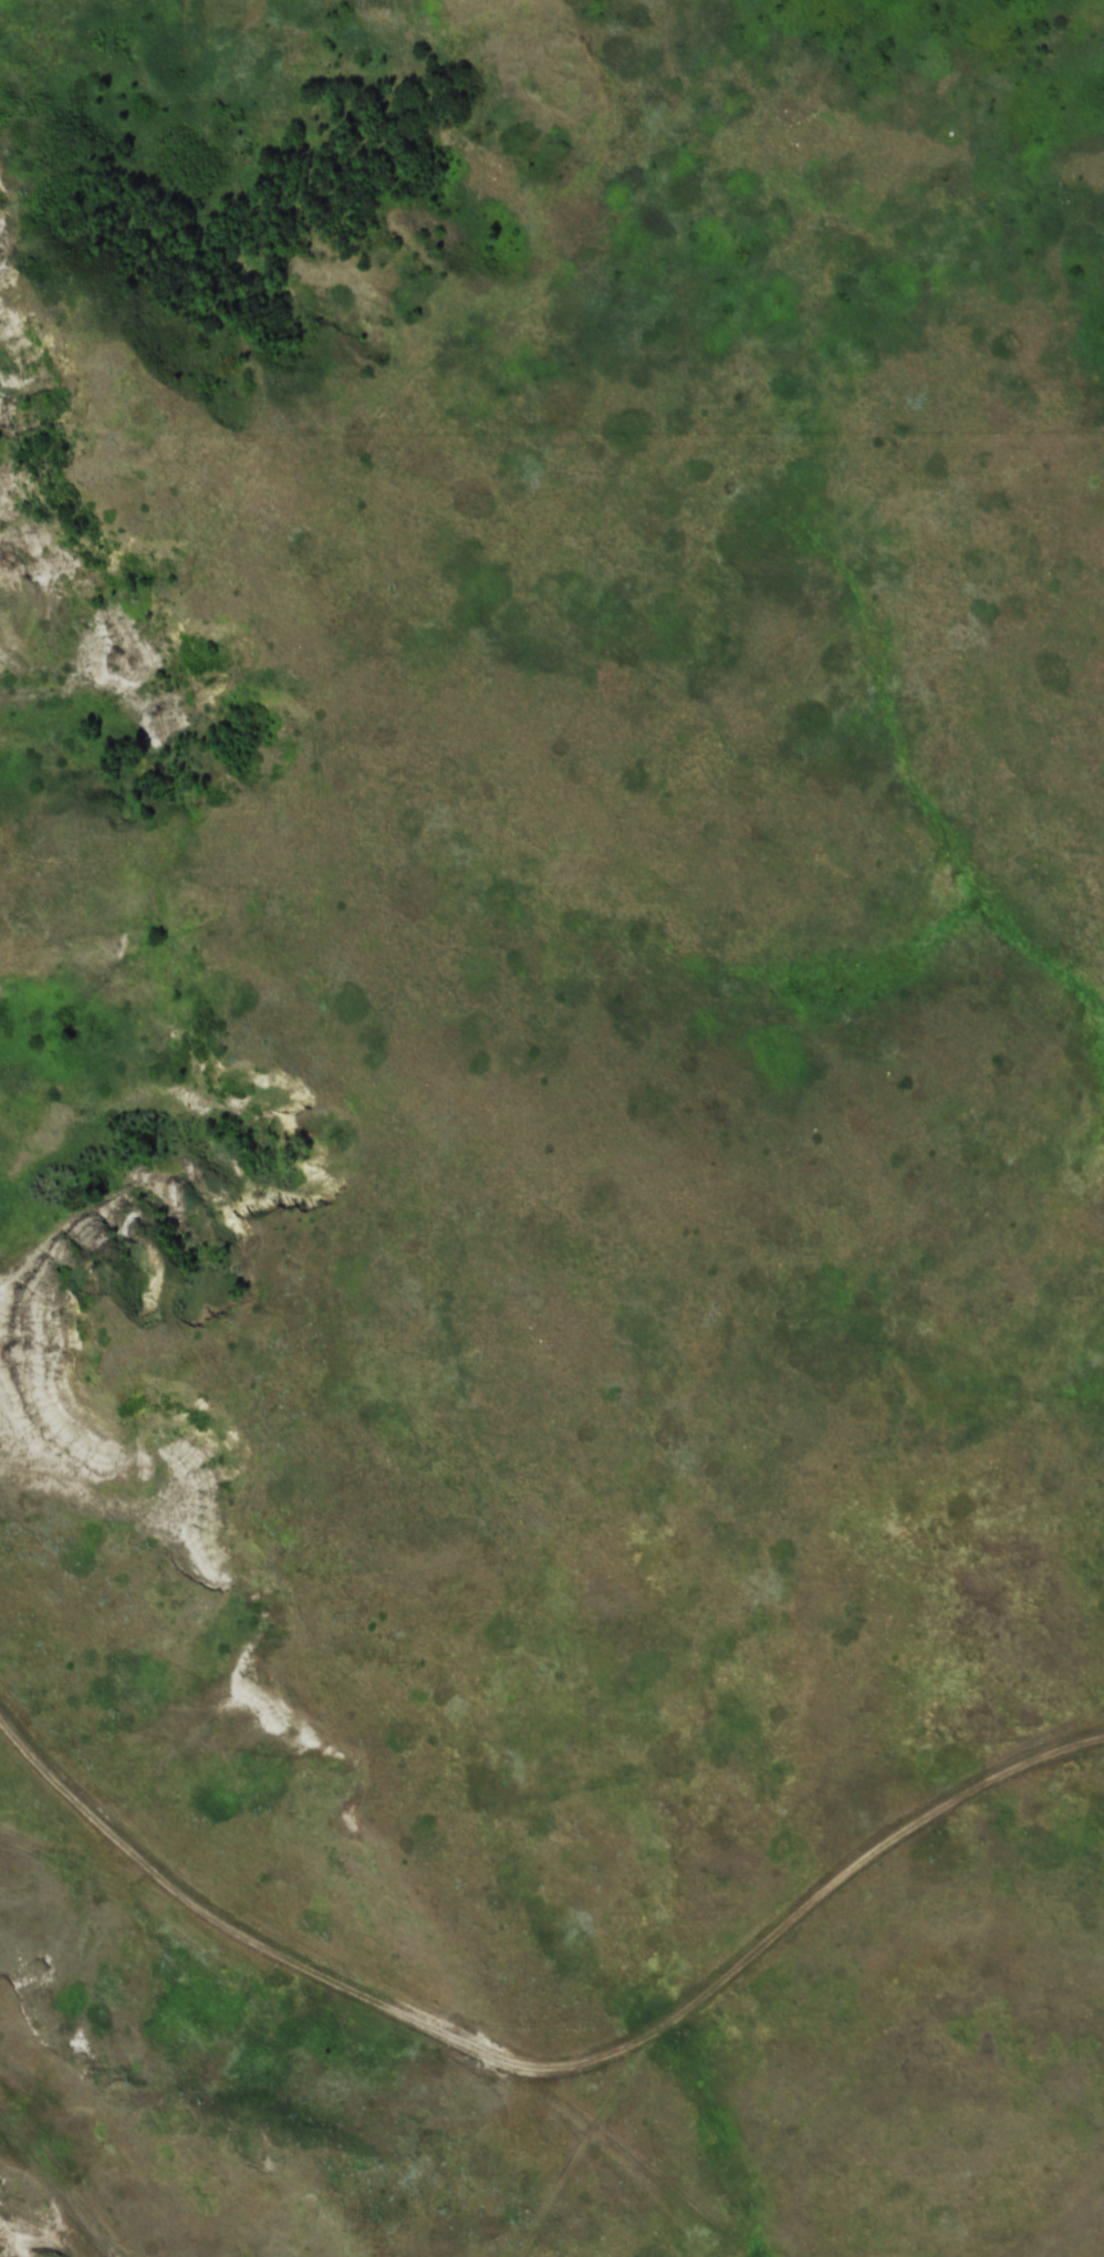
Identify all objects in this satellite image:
road: (542, 2068)
road: (593, 2131)
road: (60, 2184)

